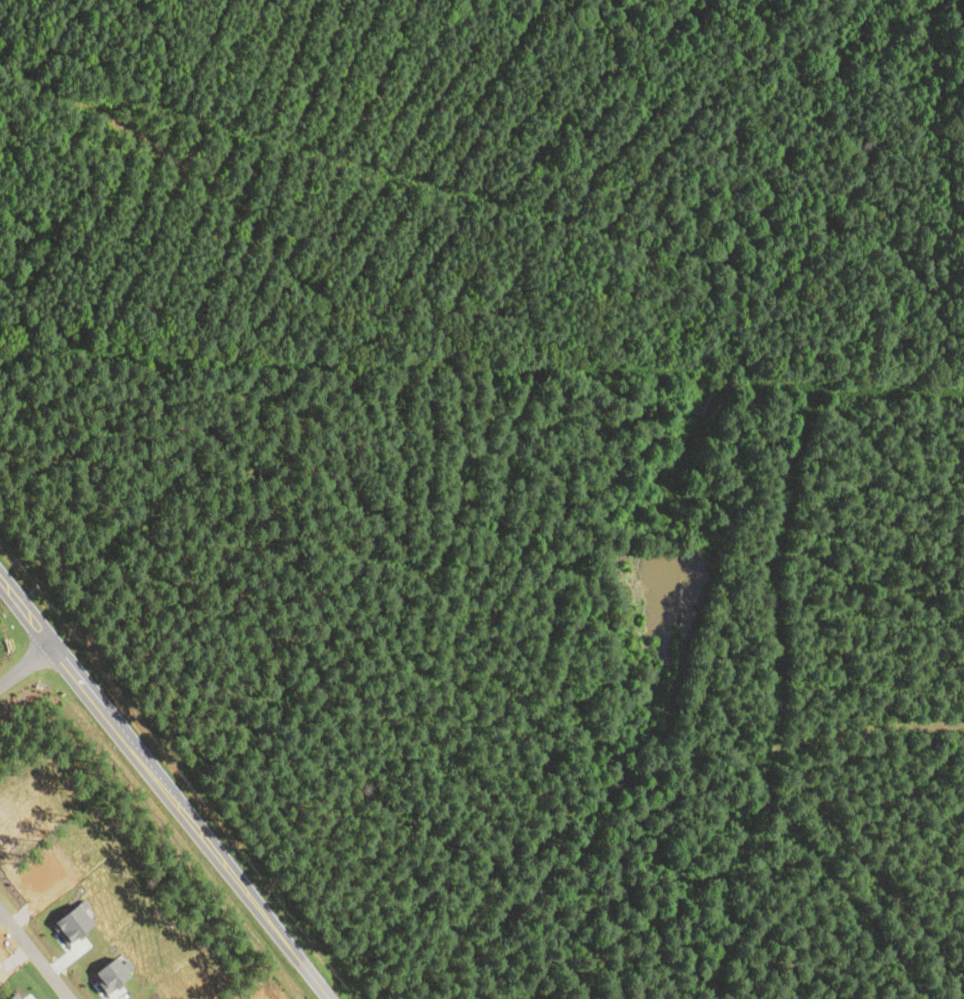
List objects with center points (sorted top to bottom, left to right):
road: (24, 661)
road: (164, 788)
road: (32, 956)

